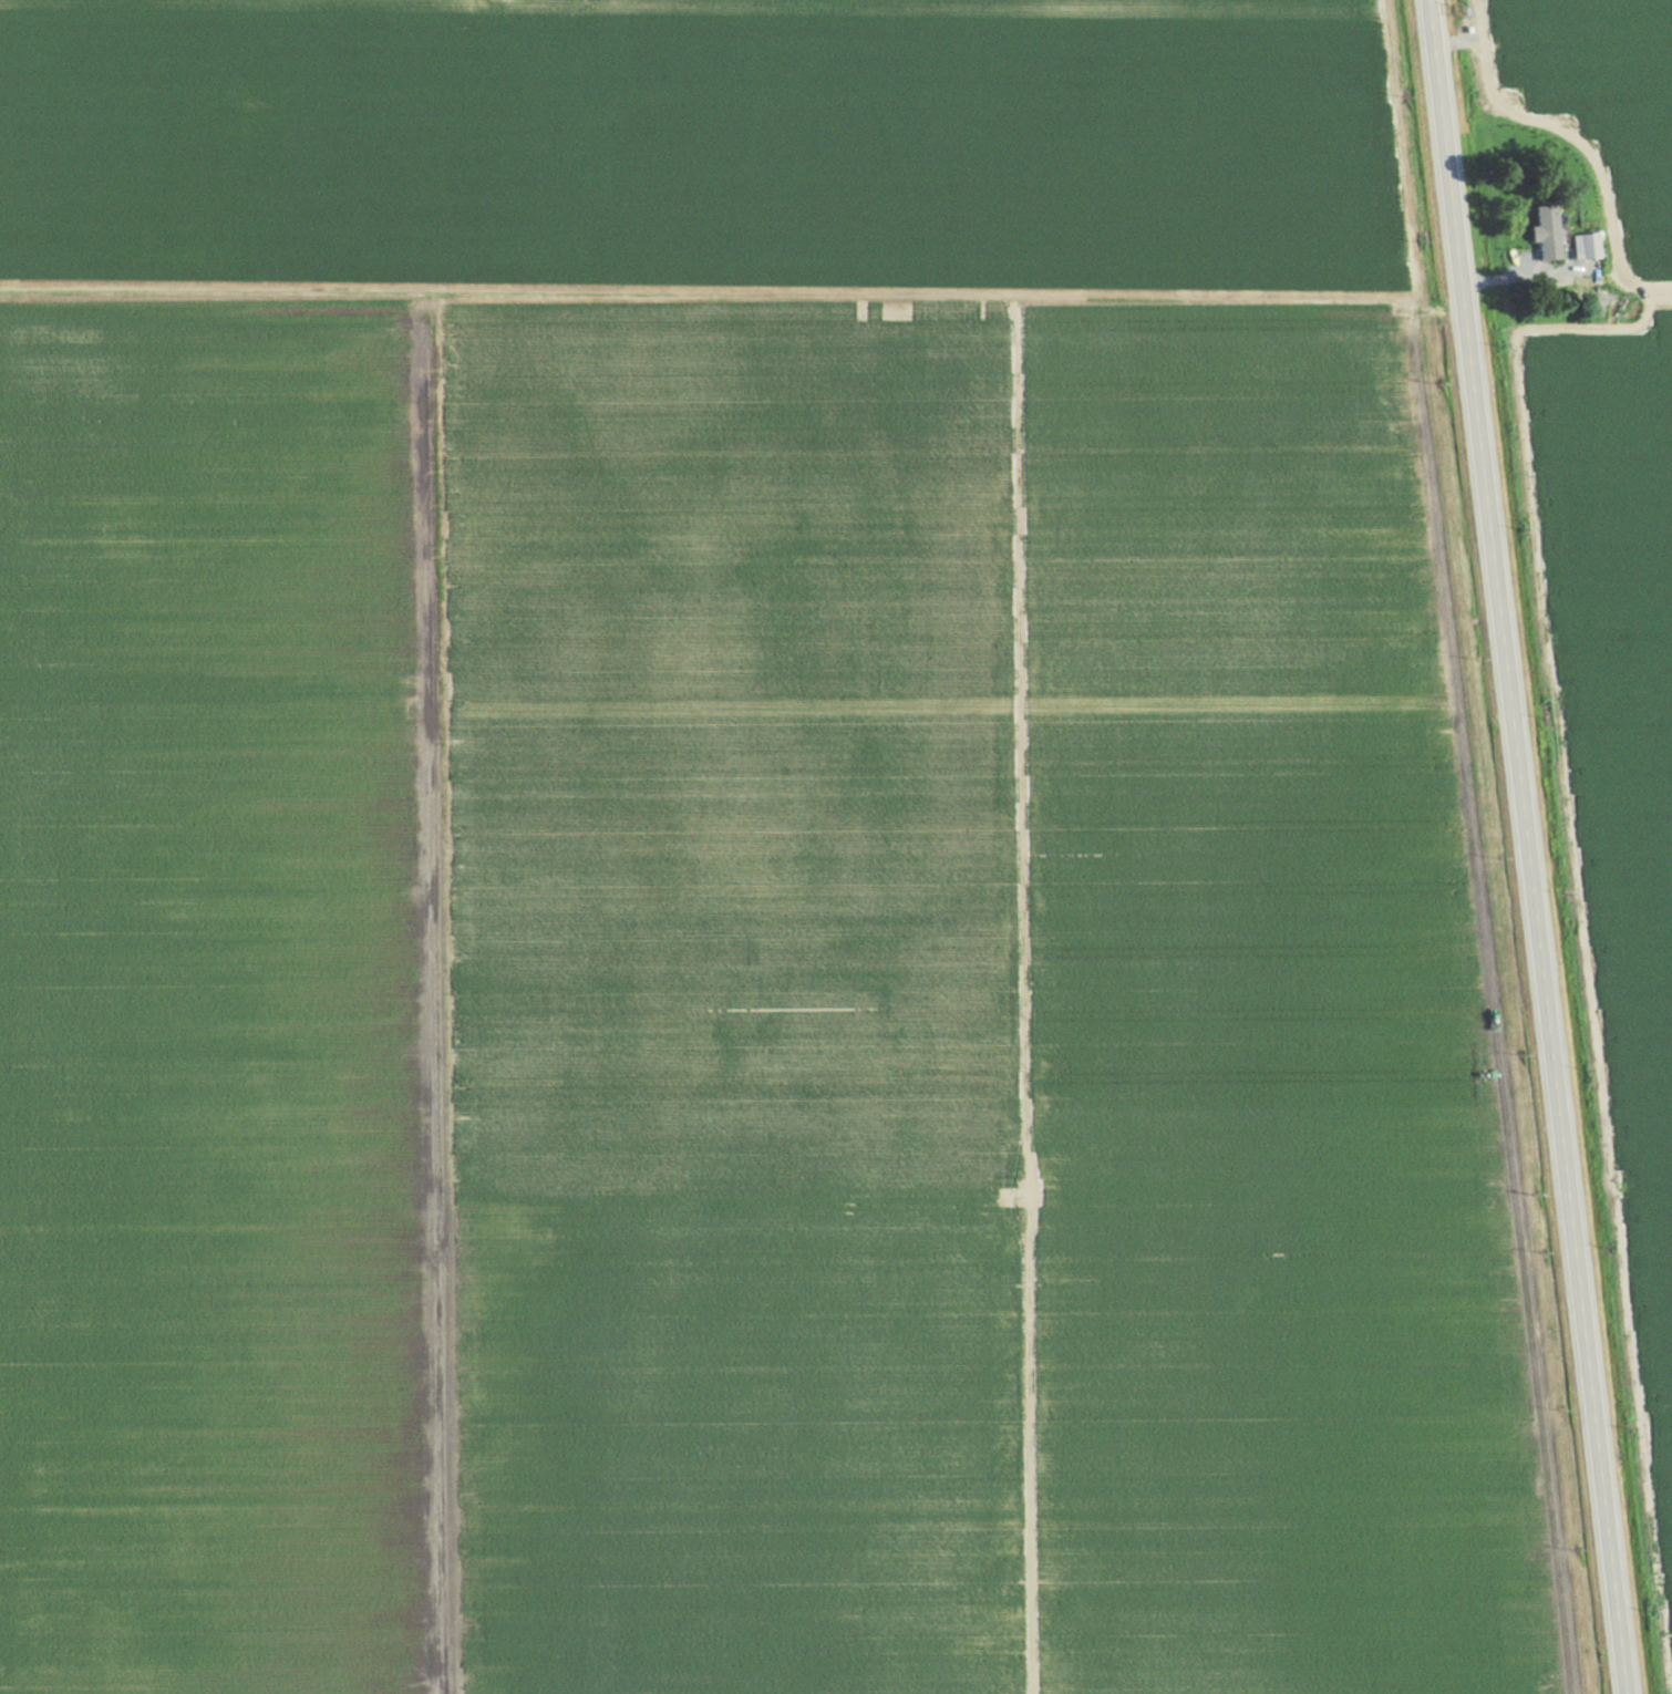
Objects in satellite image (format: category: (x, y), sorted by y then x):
road: (1597, 178)
building: (1546, 233)
building: (1586, 246)
road: (1527, 847)

